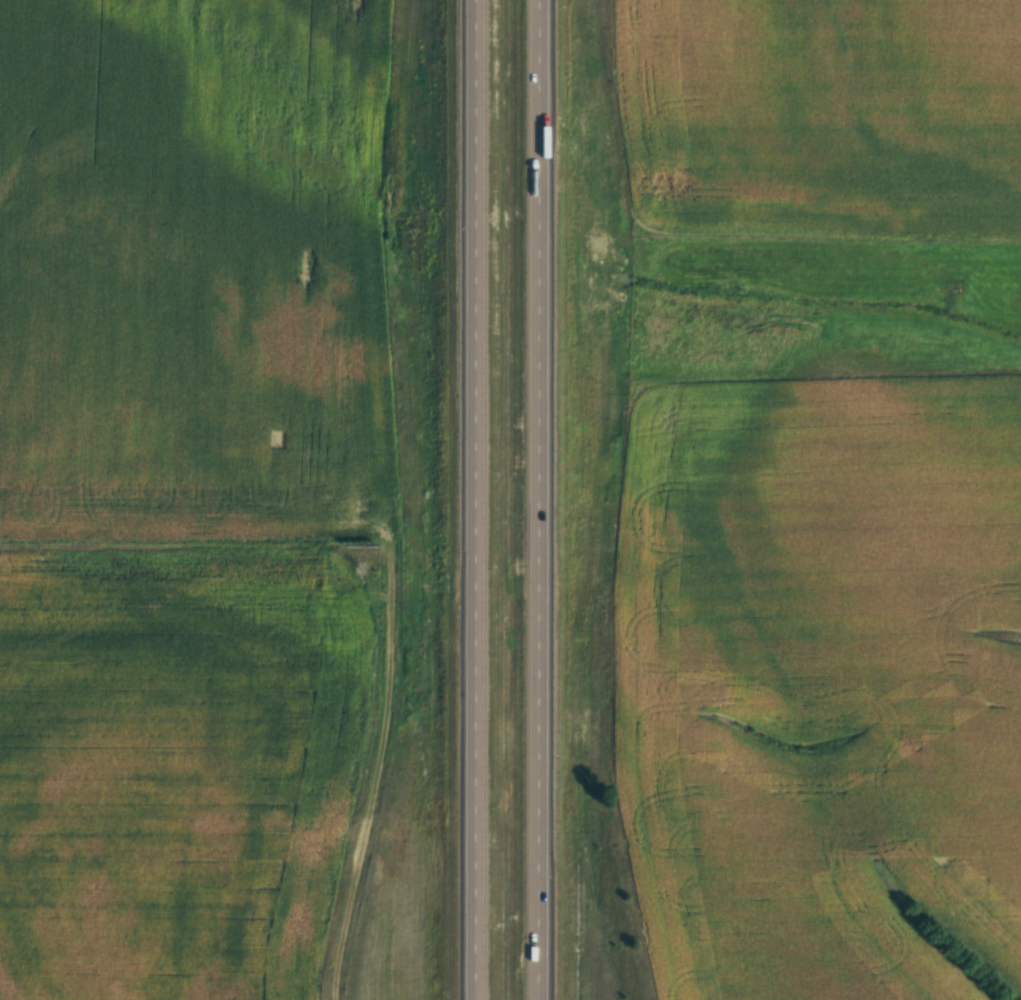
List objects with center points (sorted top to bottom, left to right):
road: (528, 499)
road: (468, 500)
road: (799, 531)

